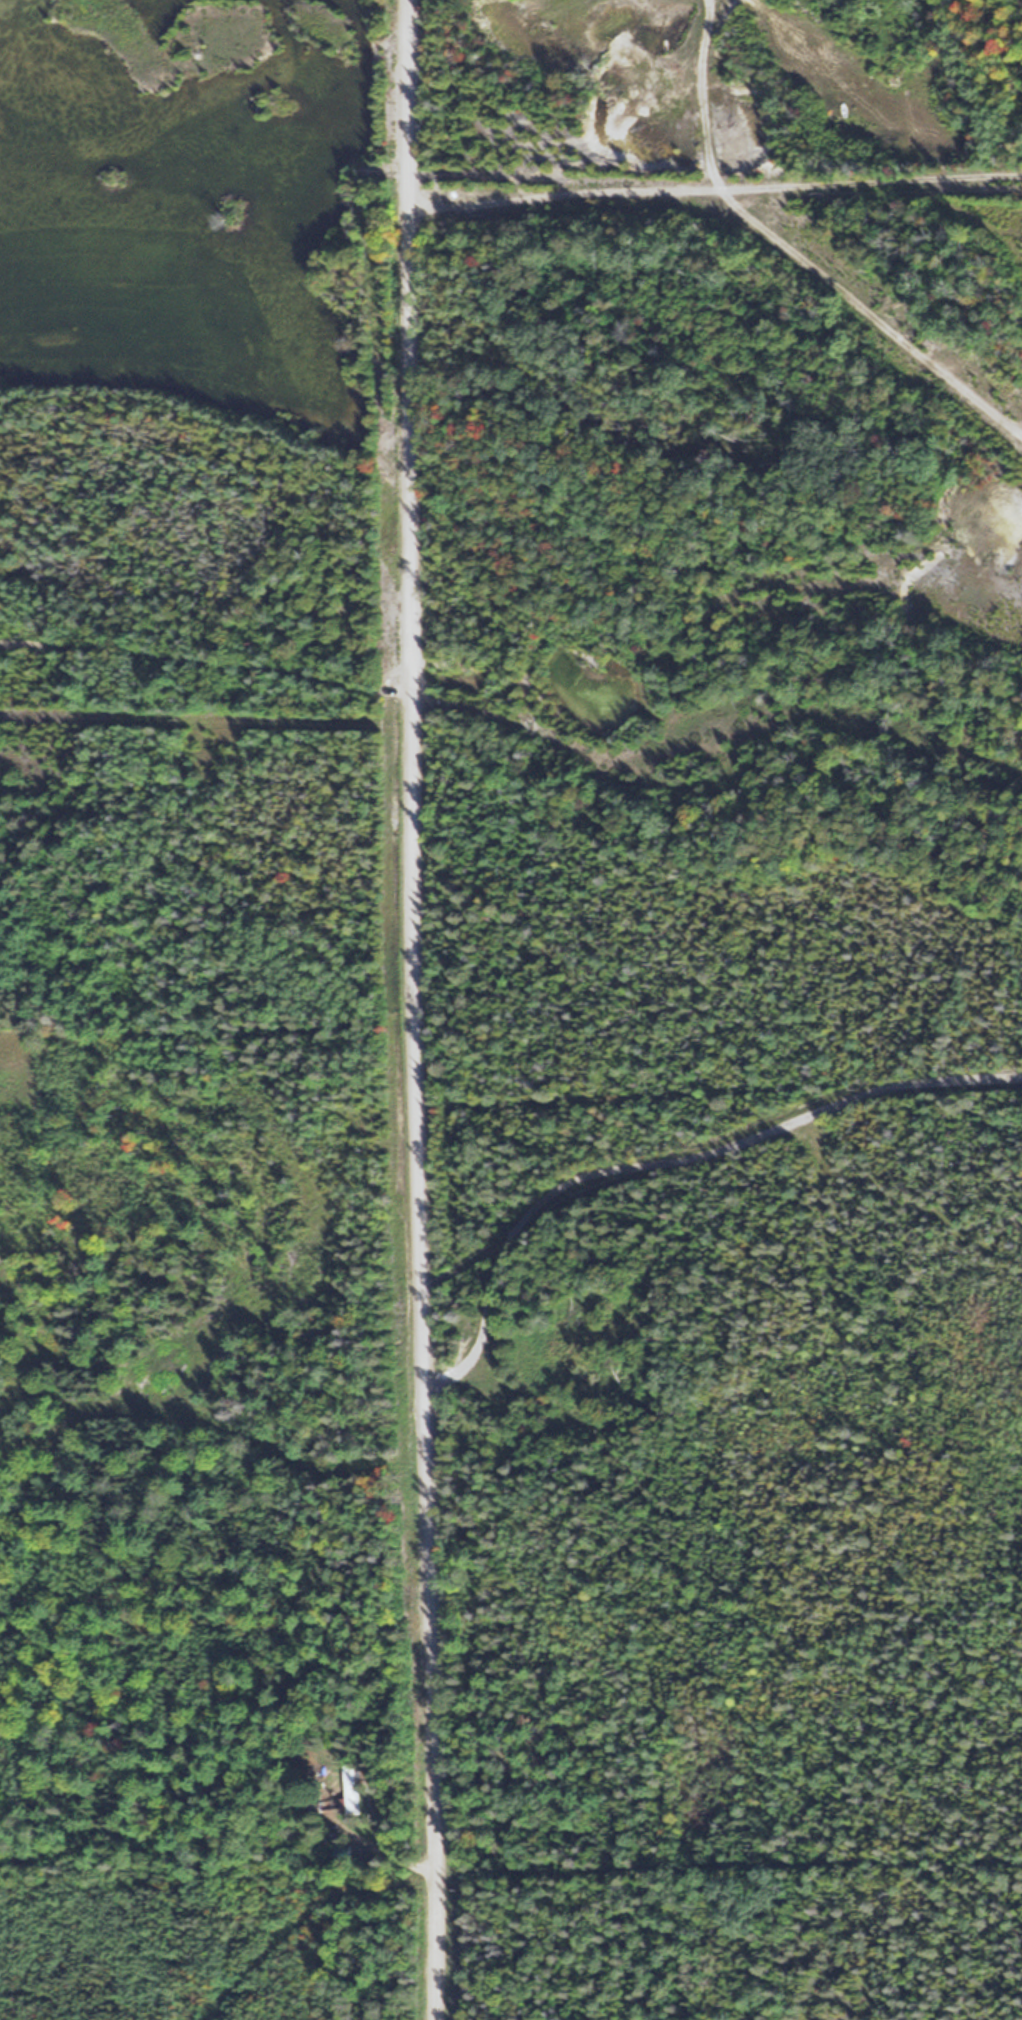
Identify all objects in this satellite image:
road: (715, 191)
road: (207, 659)
road: (416, 1010)
road: (666, 1163)
building: (353, 1791)

